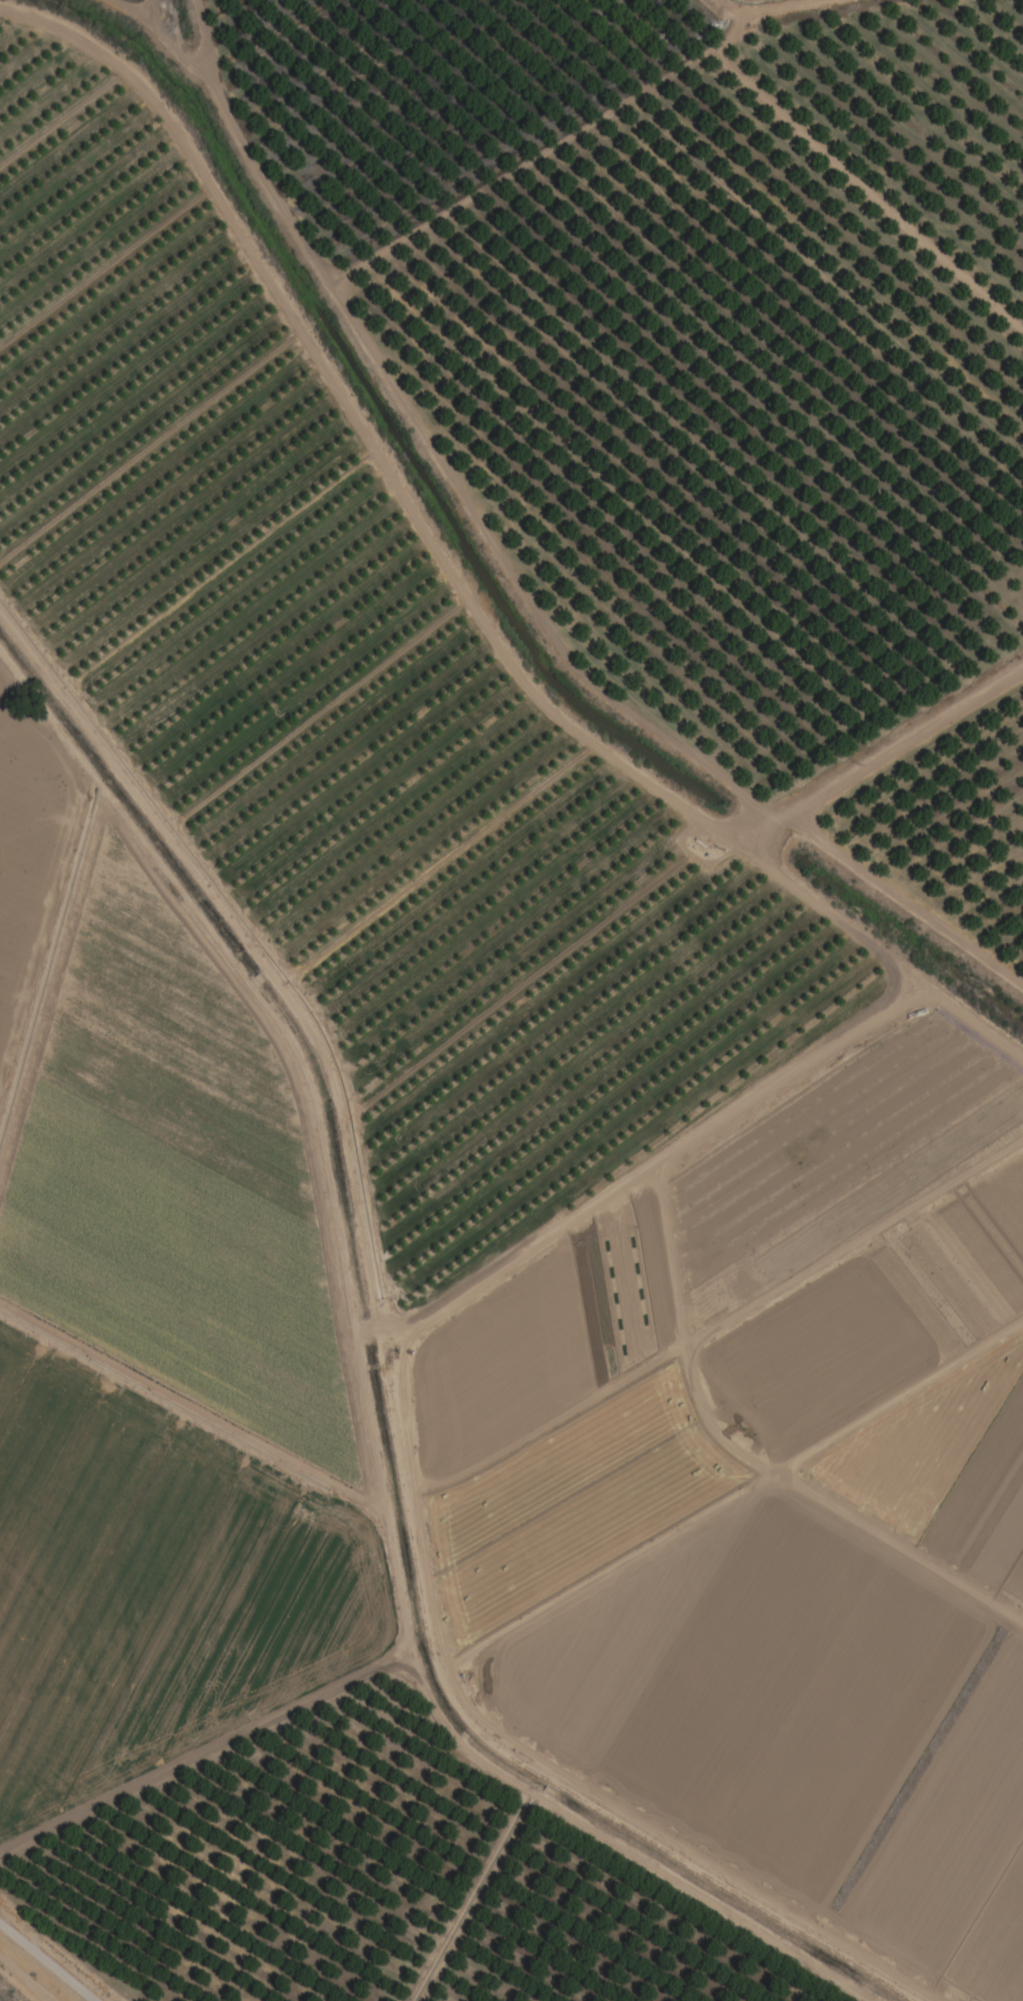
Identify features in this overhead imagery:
road: (761, 8)
crop: (28, 853)
crop: (173, 1168)
road: (369, 1396)
crop: (947, 1468)
crop: (152, 1584)
crop: (802, 1728)
road: (46, 1963)

